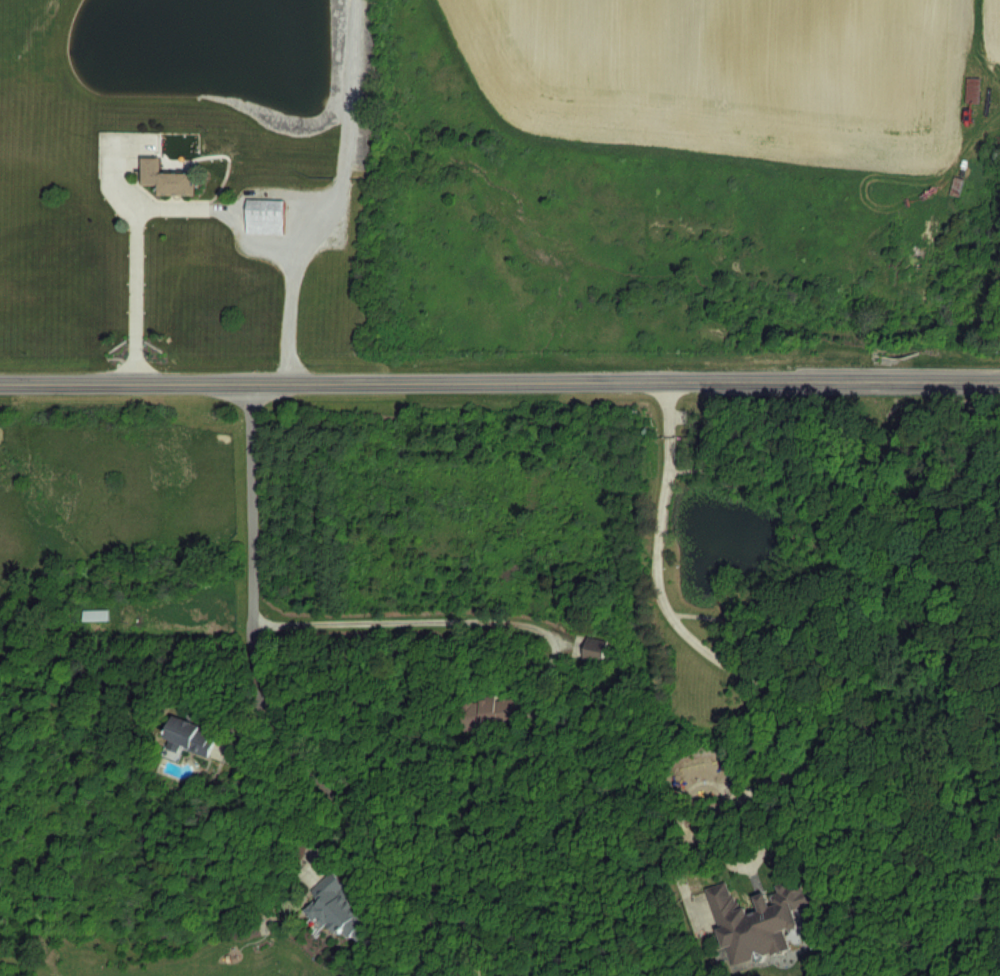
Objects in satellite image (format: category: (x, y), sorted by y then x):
building: (972, 89)
building: (166, 179)
road: (332, 195)
road: (141, 206)
building: (265, 217)
road: (500, 382)
building: (95, 614)
road: (429, 617)
building: (594, 649)
road: (717, 657)
road: (263, 676)
building: (488, 711)
building: (190, 735)
building: (337, 906)
building: (756, 920)
road: (444, 962)
road: (471, 965)

